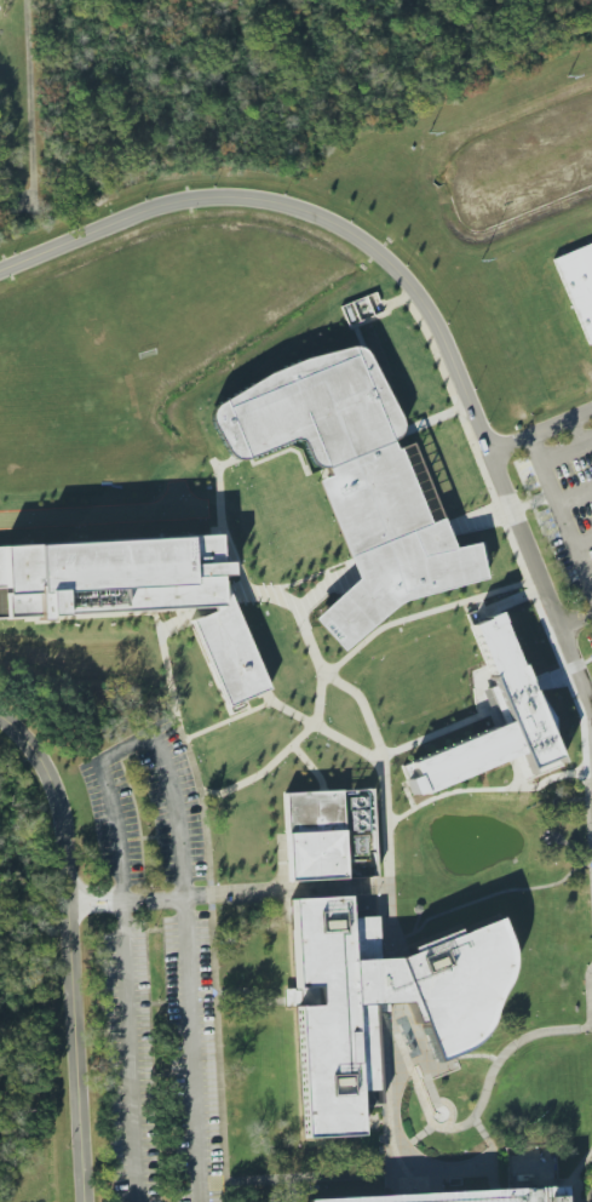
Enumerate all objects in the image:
road: (304, 206)
building: (577, 284)
building: (364, 309)
road: (575, 433)
road: (567, 452)
building: (358, 491)
road: (575, 498)
road: (561, 510)
parking lot: (565, 511)
road: (522, 528)
road: (584, 543)
road: (525, 577)
building: (130, 582)
road: (395, 622)
road: (576, 622)
road: (159, 630)
building: (513, 702)
road: (251, 710)
road: (452, 726)
road: (293, 742)
road: (134, 745)
road: (383, 769)
road: (483, 789)
park: (483, 841)
building: (315, 855)
road: (228, 895)
road: (94, 899)
road: (151, 900)
road: (116, 901)
road: (73, 903)
road: (96, 909)
road: (71, 946)
parking lot: (155, 972)
road: (248, 994)
road: (590, 996)
road: (381, 1004)
building: (335, 1018)
road: (191, 1051)
road: (127, 1052)
road: (386, 1105)
road: (472, 1115)
park: (424, 1116)
road: (413, 1138)
road: (490, 1150)
building: (461, 1195)

